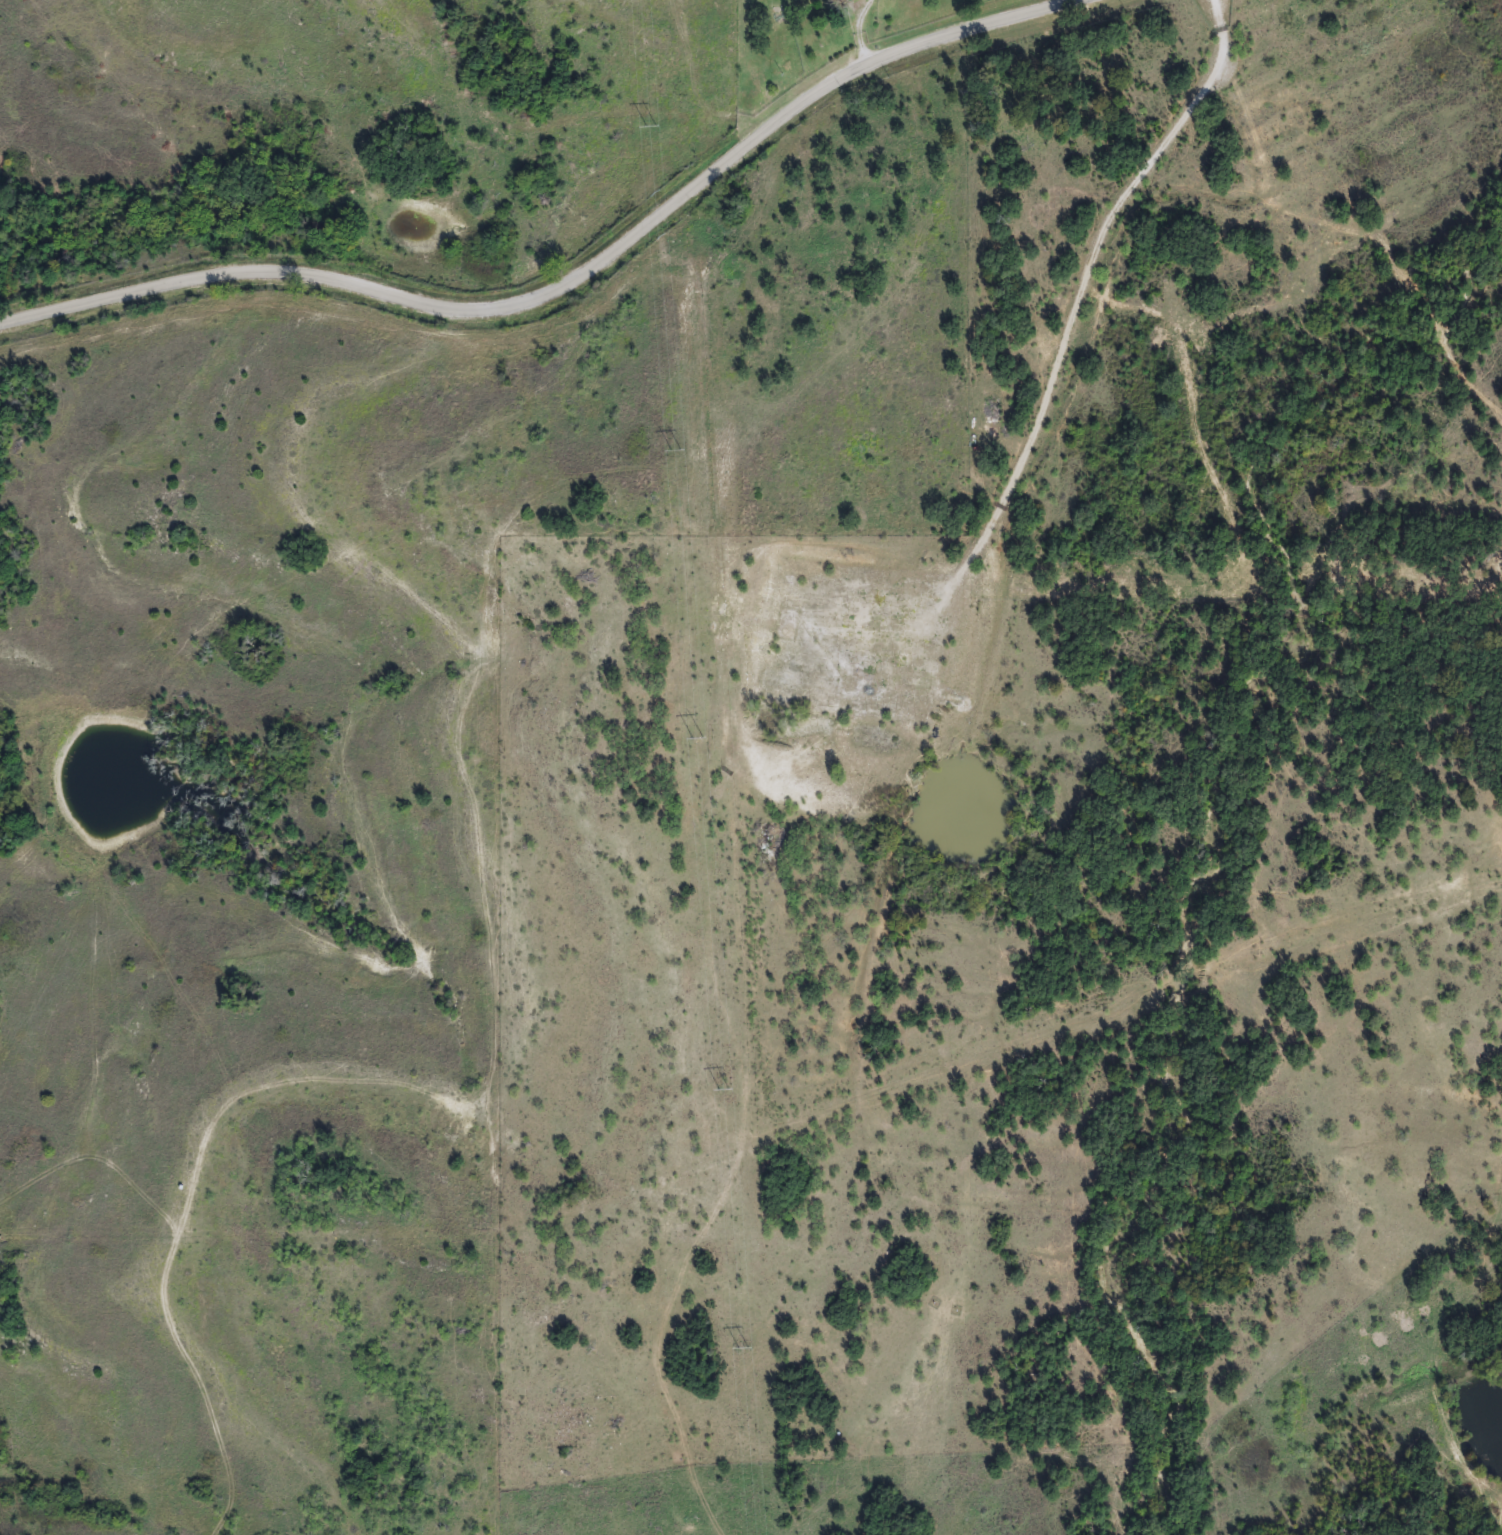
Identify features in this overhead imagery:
road: (858, 35)
road: (687, 87)
power tower: (653, 140)
road: (583, 276)
road: (1072, 313)
power tower: (678, 465)
power tower: (702, 759)
power tower: (729, 1110)
power tower: (747, 1370)

